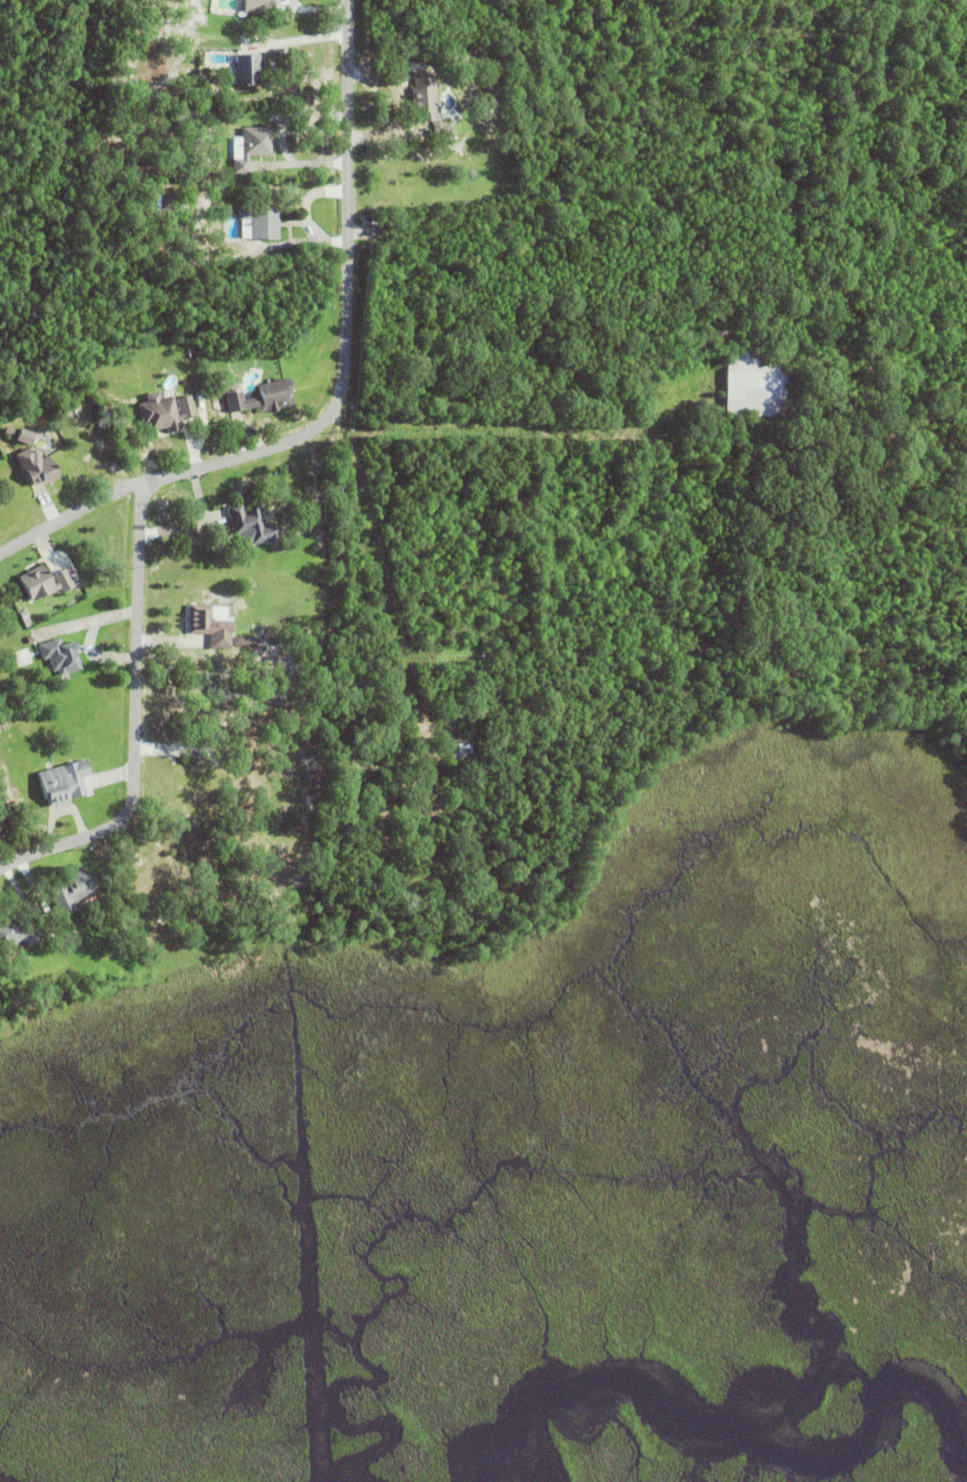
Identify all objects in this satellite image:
building: (258, 6)
building: (166, 19)
building: (159, 67)
building: (247, 69)
building: (156, 99)
building: (427, 105)
building: (169, 111)
building: (224, 114)
building: (187, 115)
building: (251, 147)
building: (219, 198)
building: (166, 203)
building: (260, 221)
road: (347, 309)
building: (754, 385)
building: (264, 397)
building: (164, 412)
building: (20, 435)
building: (35, 467)
building: (519, 499)
building: (251, 526)
building: (44, 583)
building: (17, 604)
building: (69, 606)
building: (31, 611)
building: (211, 626)
road: (138, 637)
building: (241, 641)
building: (60, 656)
building: (173, 752)
building: (63, 783)
building: (73, 893)
building: (15, 934)

